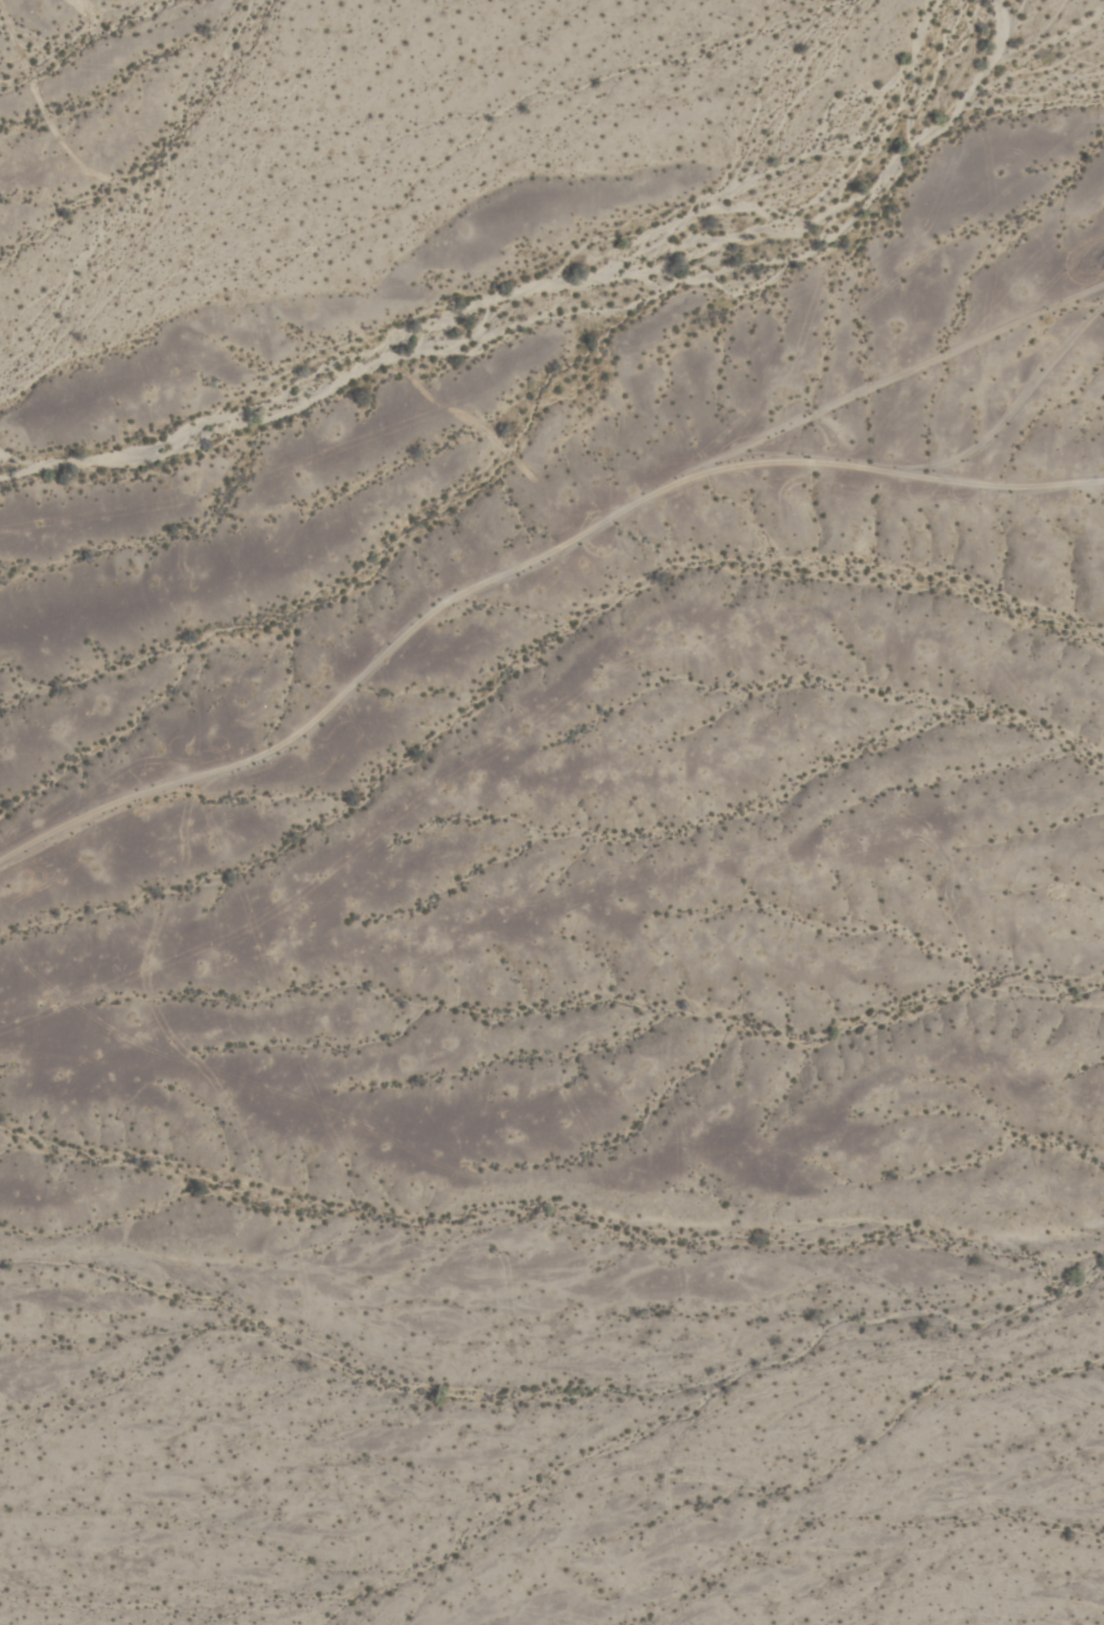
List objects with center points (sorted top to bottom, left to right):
road: (902, 475)
road: (357, 680)

